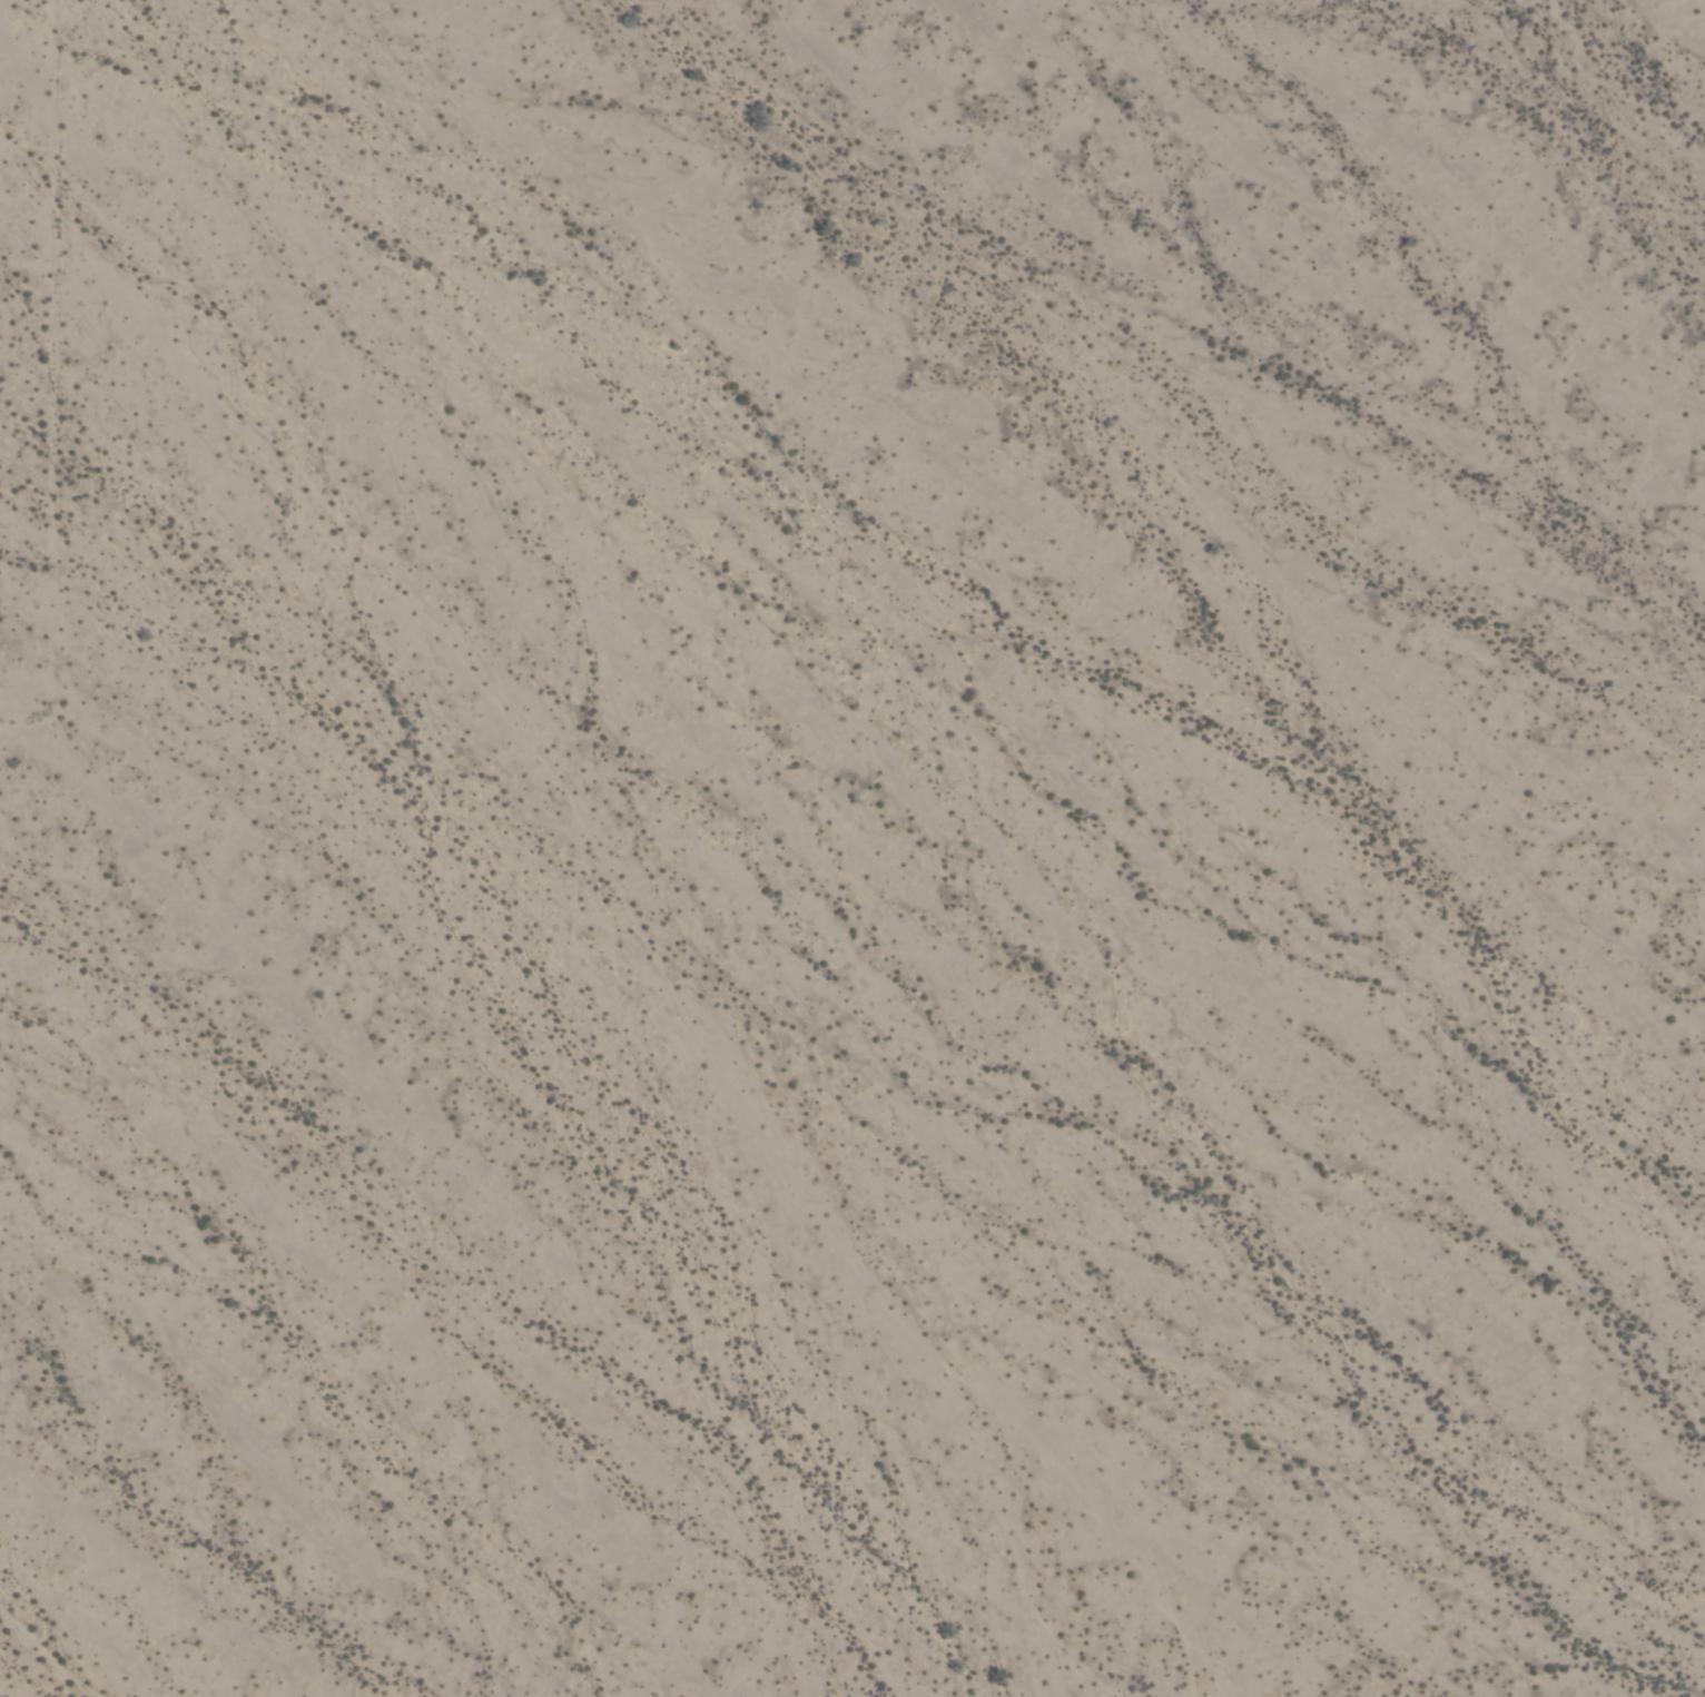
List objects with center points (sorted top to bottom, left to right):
road: (8, 147)
road: (3, 243)

